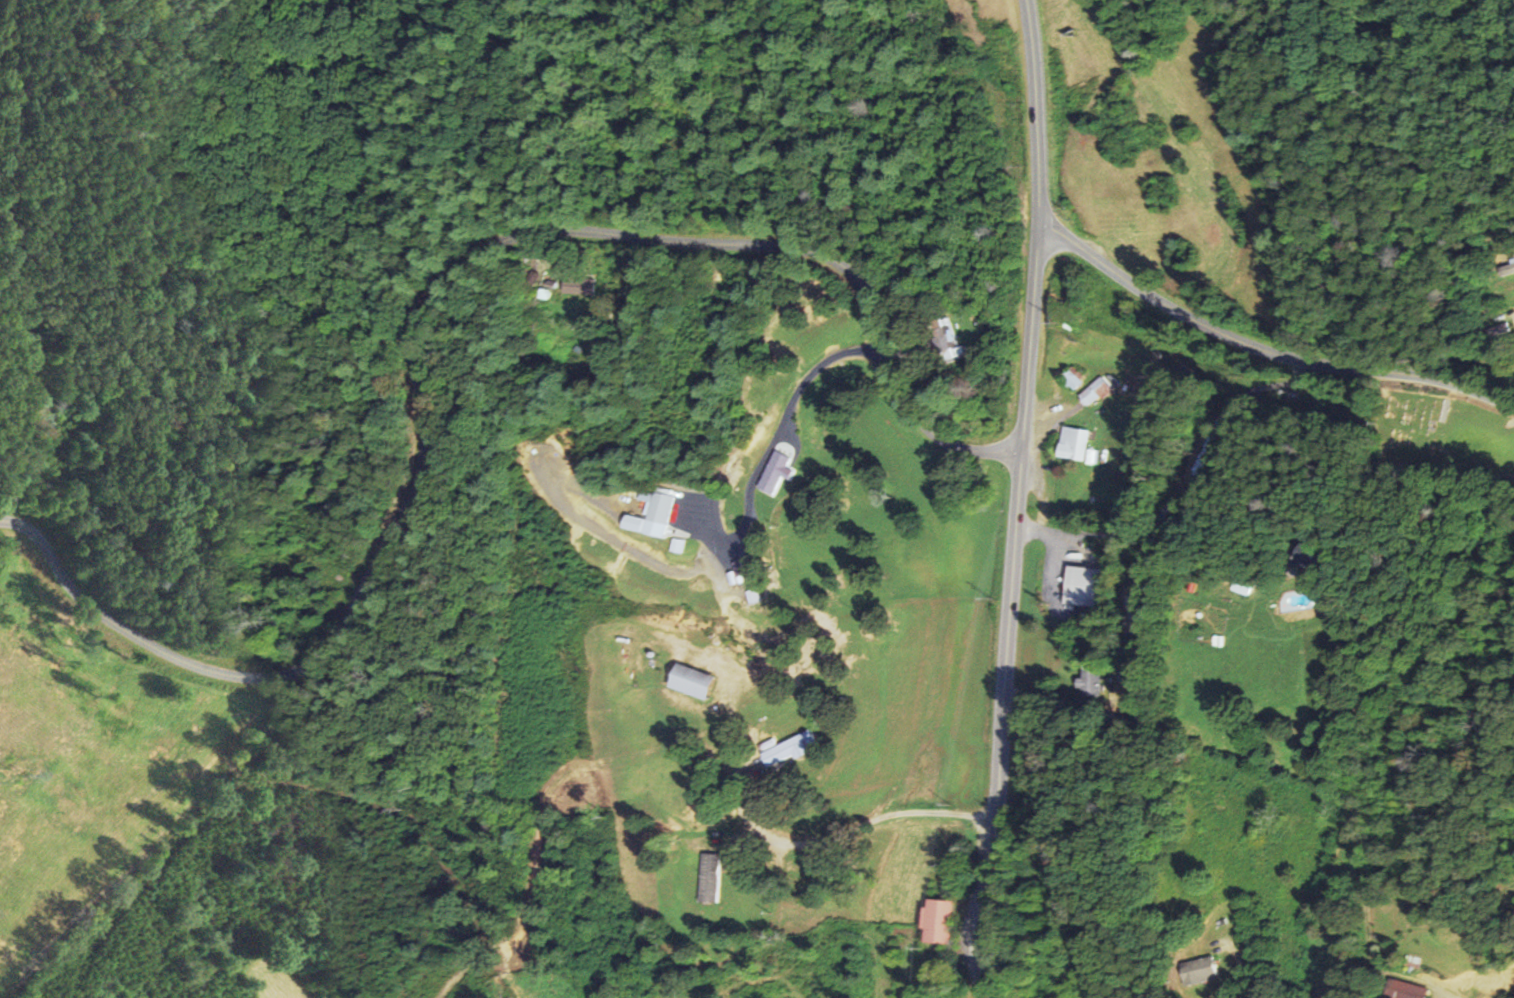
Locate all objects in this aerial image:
road: (426, 321)
road: (1263, 351)
road: (1180, 450)
road: (1208, 466)
road: (1017, 498)
building: (657, 512)
building: (633, 523)
building: (677, 545)
building: (1298, 558)
building: (1082, 586)
building: (688, 681)
building: (1091, 684)
building: (788, 749)
road: (826, 835)
building: (708, 878)
building: (937, 922)
road: (1232, 949)
building: (1197, 971)
building: (1403, 990)

